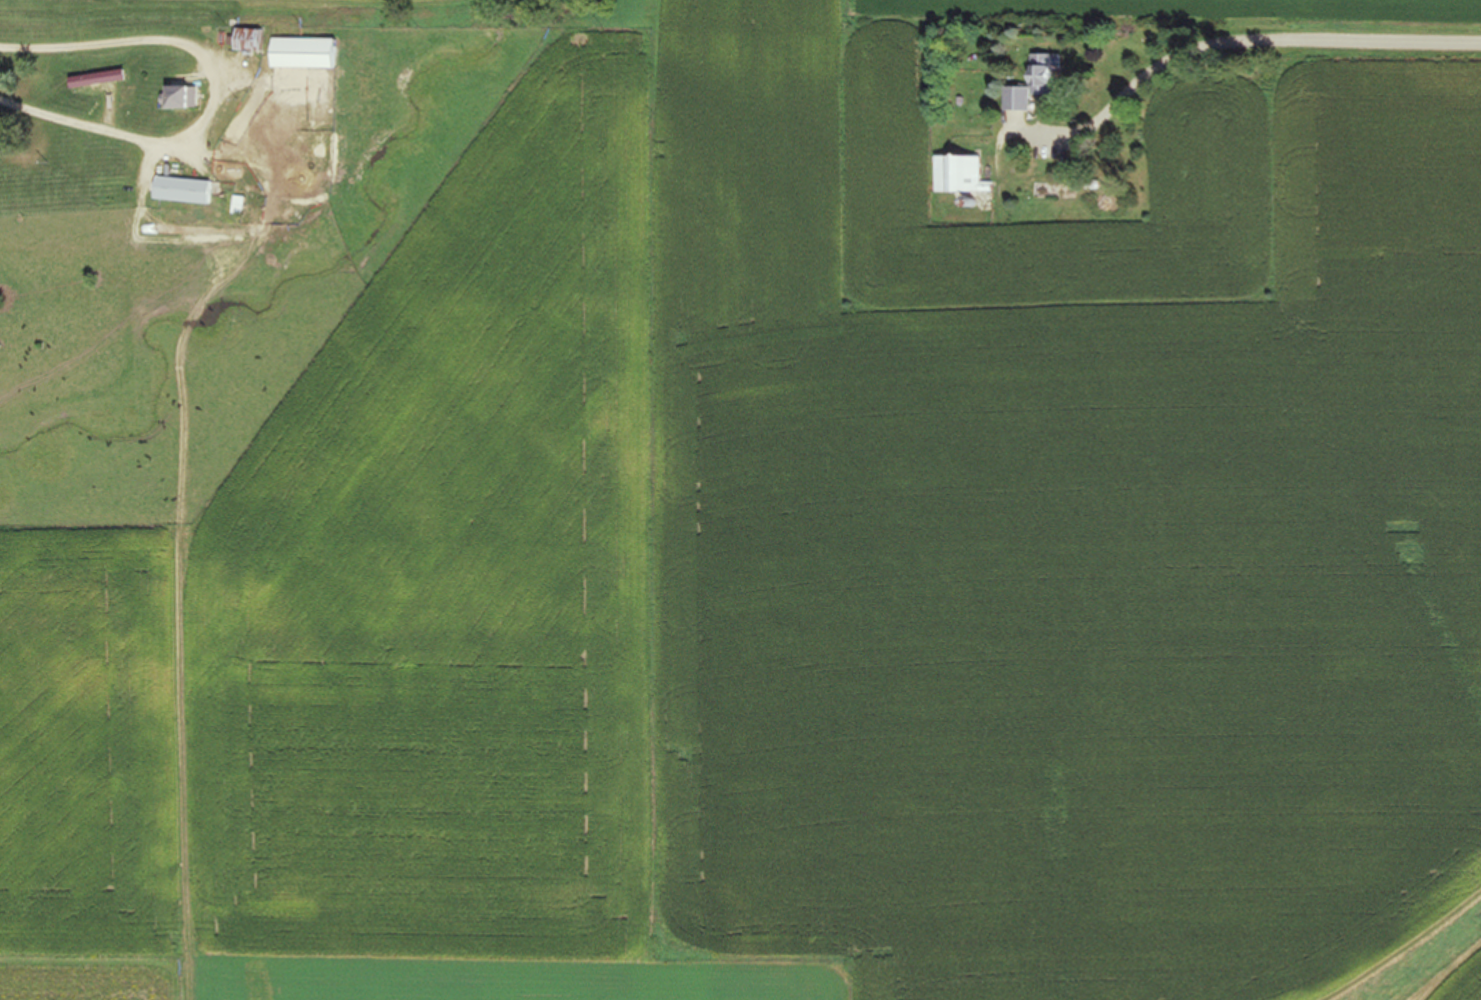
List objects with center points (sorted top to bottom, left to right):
building: (300, 54)
road: (73, 67)
road: (1240, 67)
building: (93, 80)
building: (1032, 83)
building: (177, 99)
building: (958, 175)
building: (179, 191)
building: (1044, 191)

